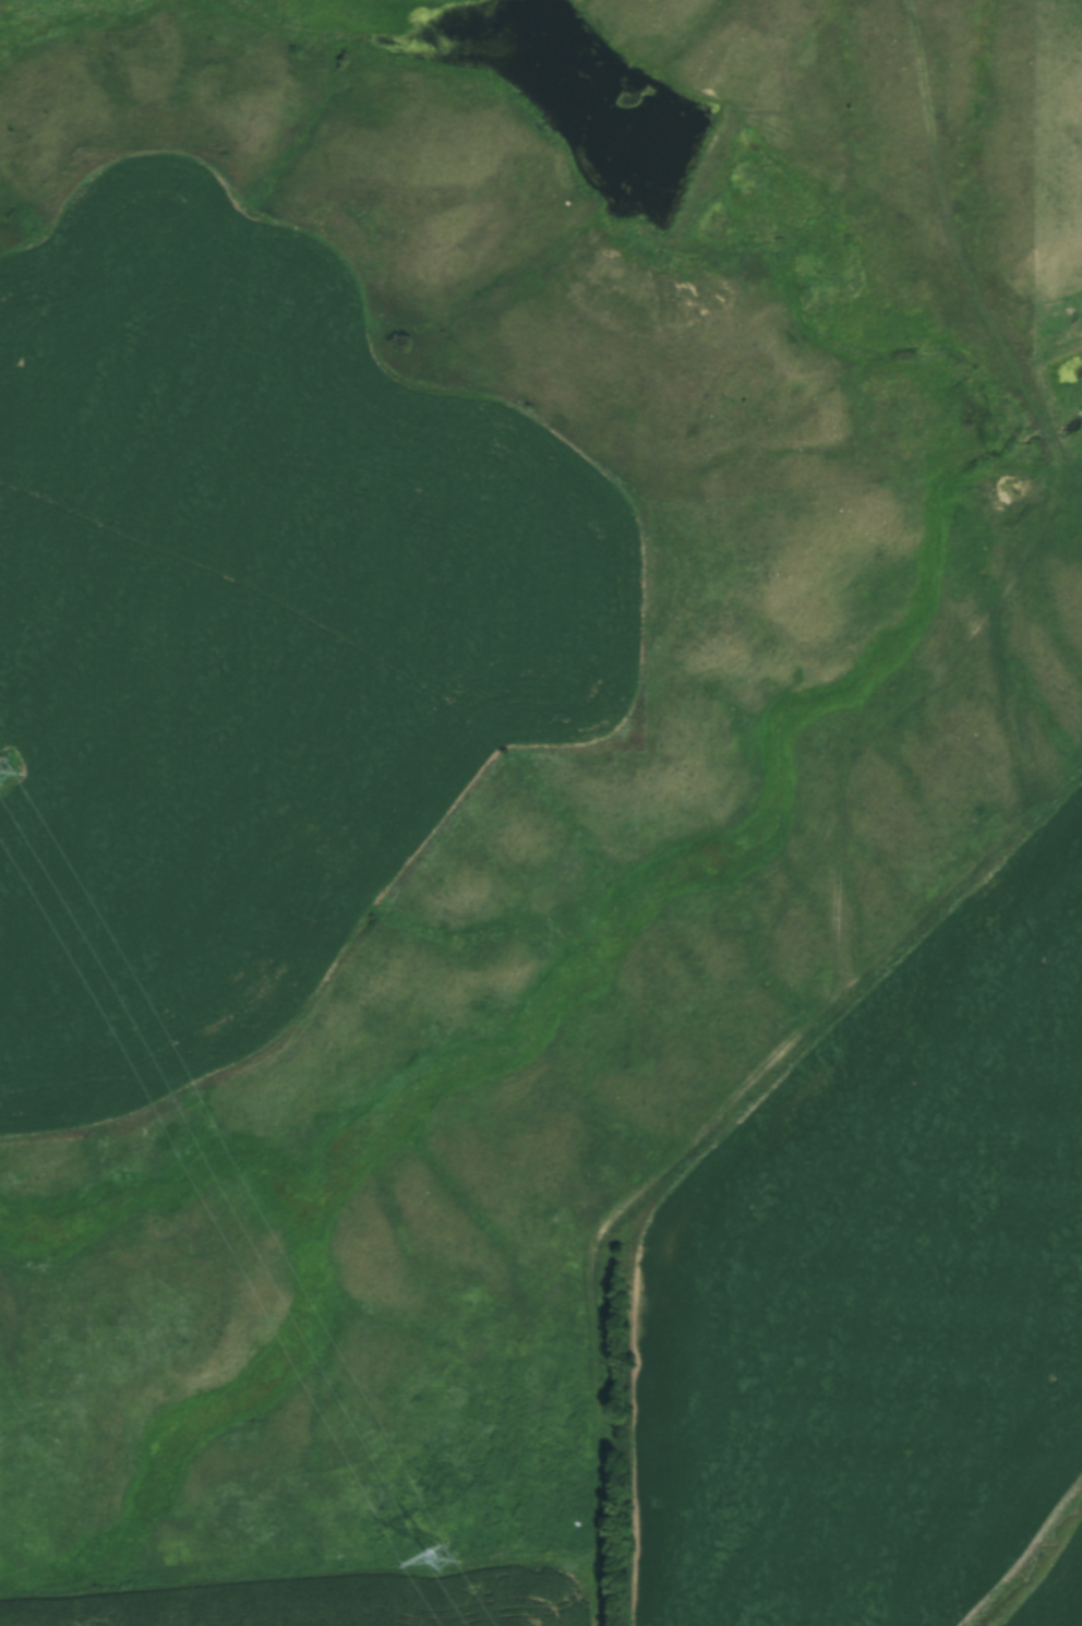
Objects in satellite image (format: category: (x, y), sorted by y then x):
power tower: (434, 1561)

